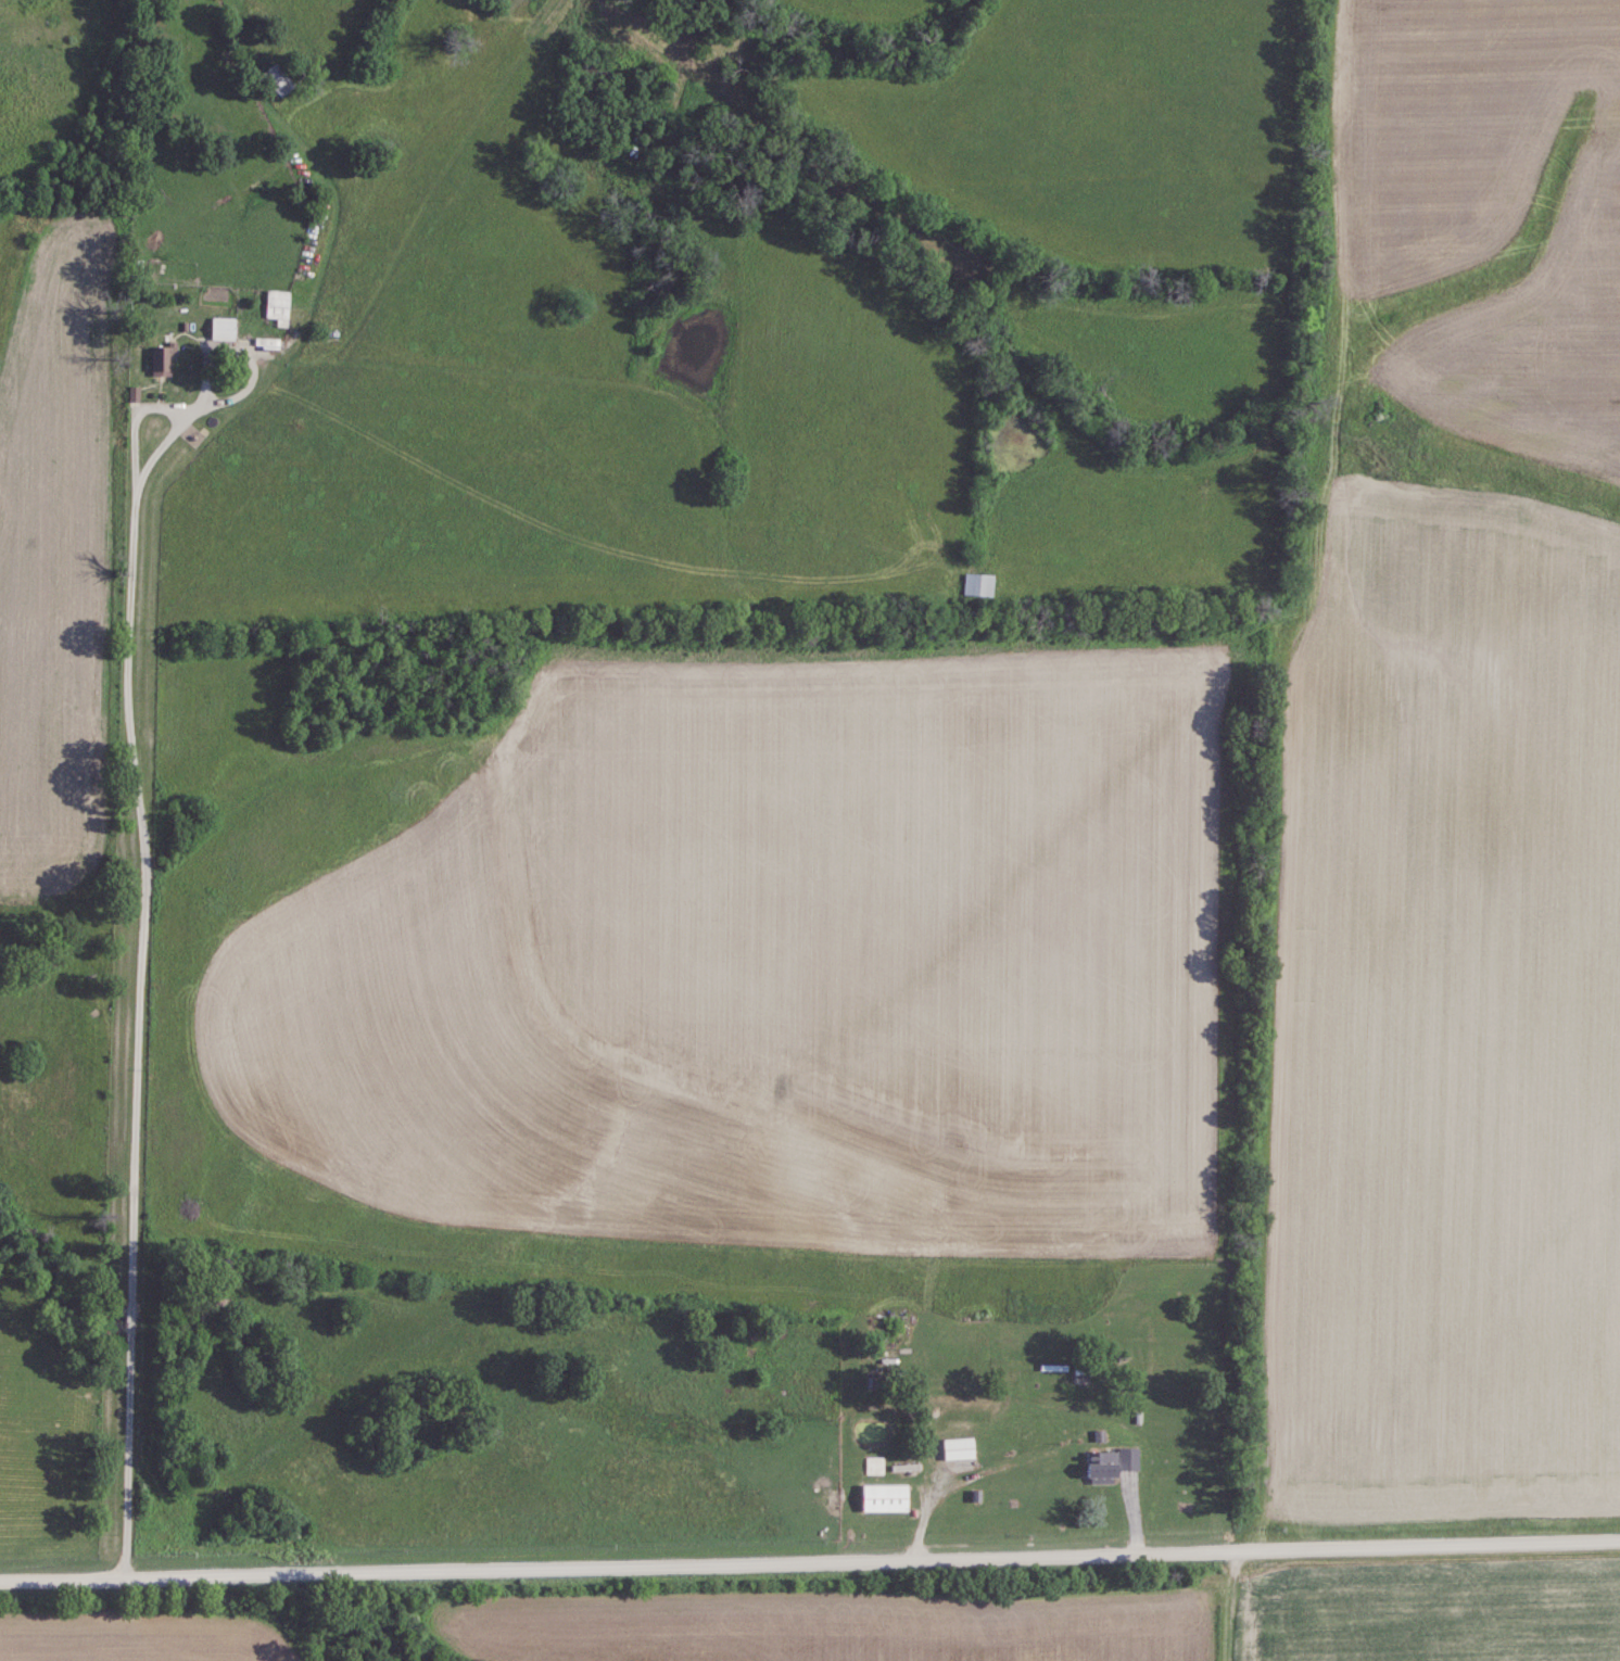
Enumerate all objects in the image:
building: (278, 78)
building: (277, 306)
building: (222, 328)
building: (266, 342)
building: (162, 359)
building: (977, 585)
road: (142, 936)
building: (959, 1448)
building: (1110, 1465)
building: (874, 1466)
building: (884, 1497)
road: (810, 1563)

